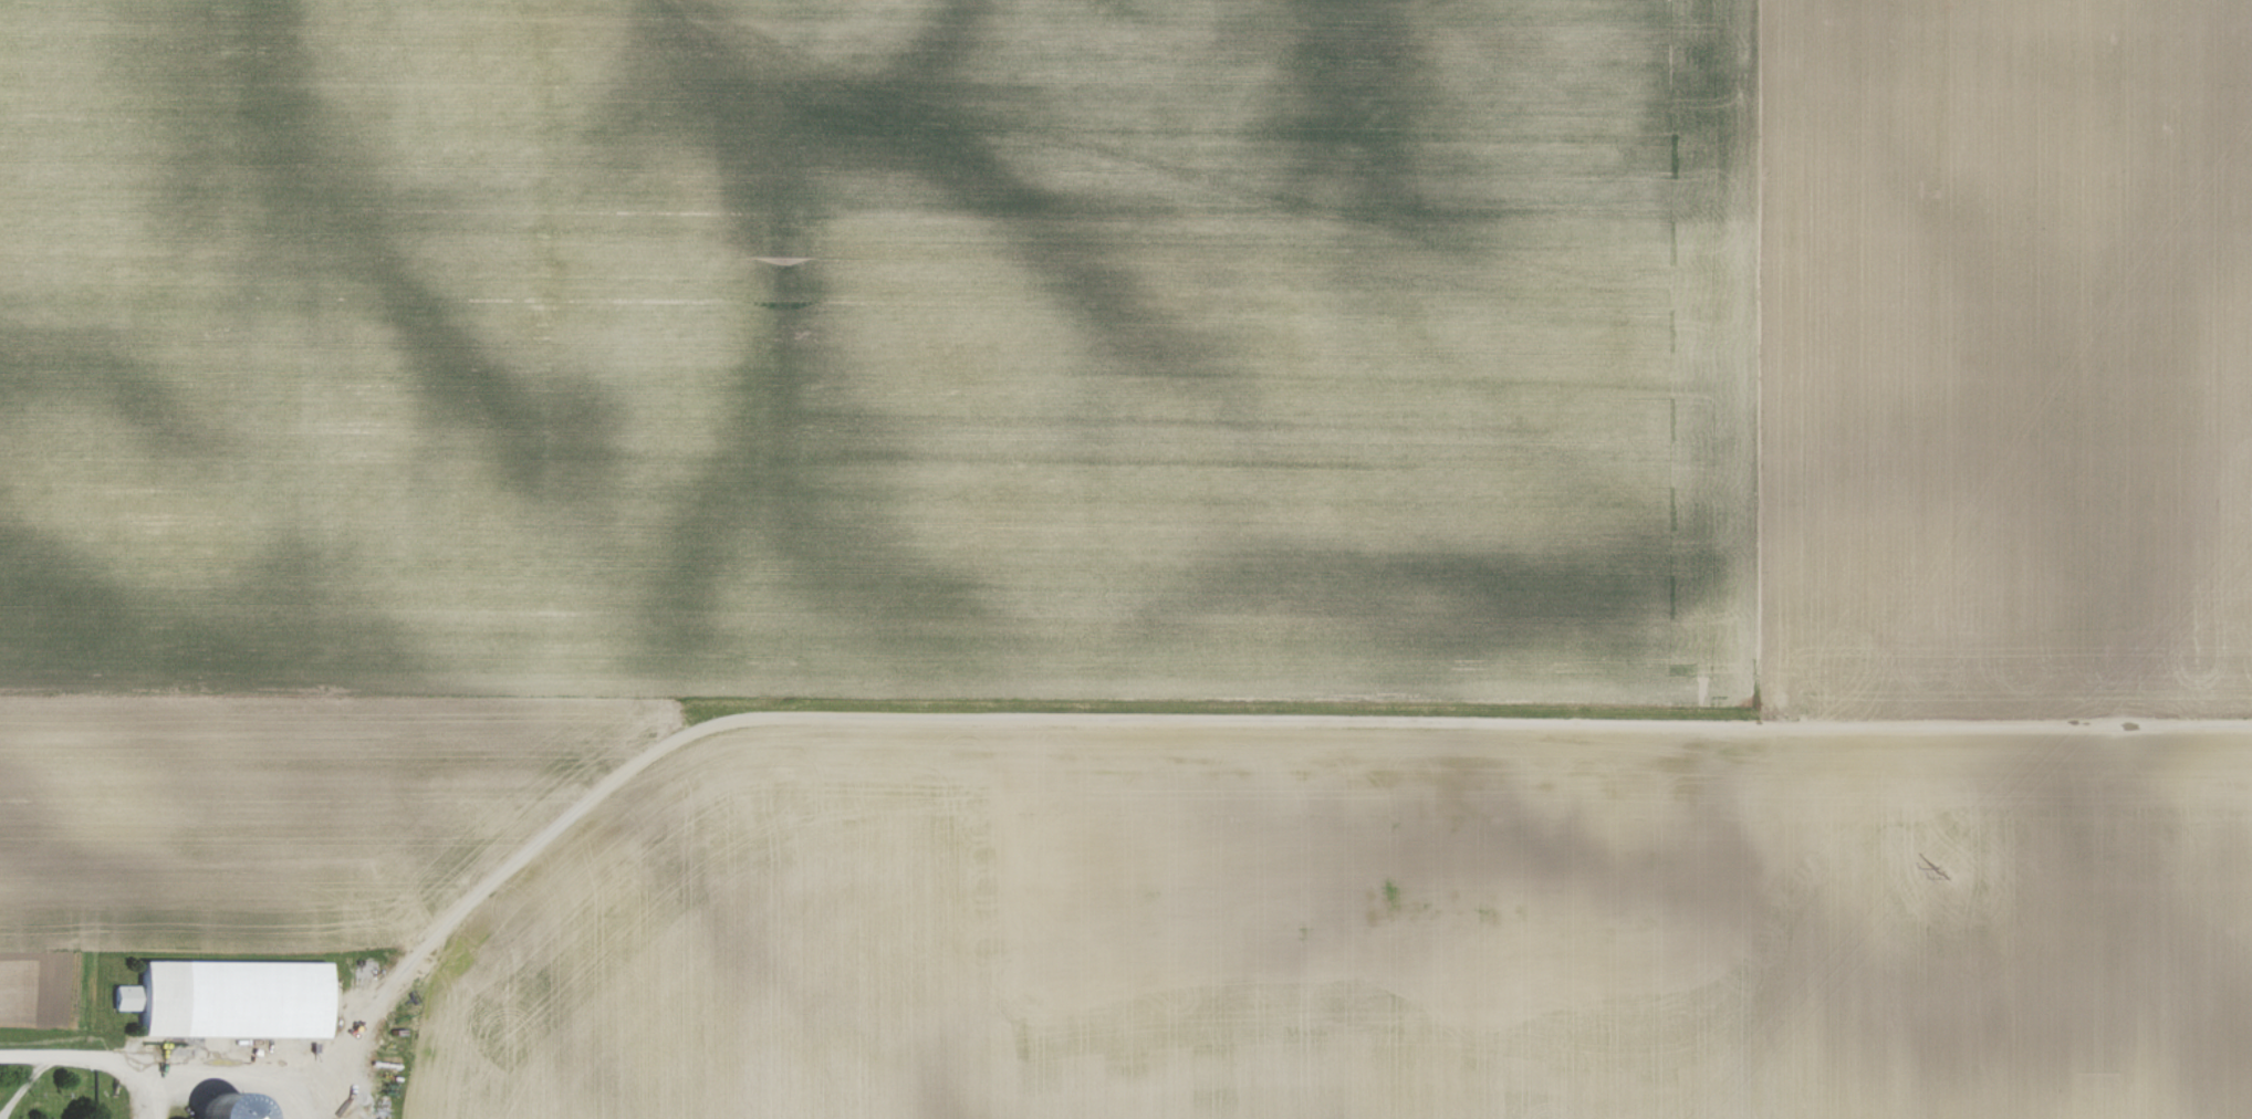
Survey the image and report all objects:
road: (1192, 717)
power tower: (1943, 875)
building: (238, 998)
road: (74, 1055)
road: (237, 1075)
road: (22, 1081)
road: (143, 1091)

